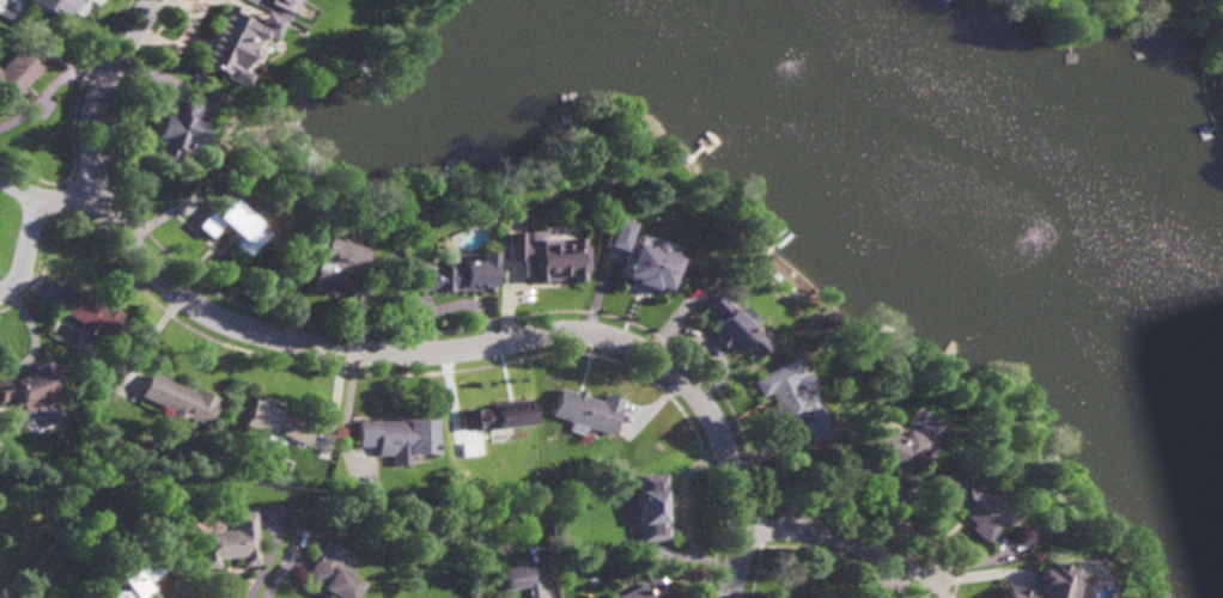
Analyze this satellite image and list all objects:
building: (285, 5)
building: (54, 6)
building: (235, 43)
building: (1221, 65)
building: (14, 75)
road: (48, 87)
building: (175, 132)
building: (309, 193)
road: (66, 197)
building: (235, 227)
road: (31, 231)
building: (583, 232)
building: (641, 258)
building: (549, 260)
building: (337, 263)
building: (454, 275)
building: (93, 316)
building: (737, 329)
road: (381, 353)
building: (30, 389)
building: (178, 401)
building: (795, 402)
building: (589, 411)
building: (498, 417)
building: (279, 421)
building: (400, 434)
building: (887, 445)
building: (976, 500)
building: (652, 505)
road: (836, 535)
building: (232, 542)
road: (285, 563)
building: (136, 570)
building: (331, 573)
building: (523, 579)
building: (1048, 584)
building: (645, 590)

